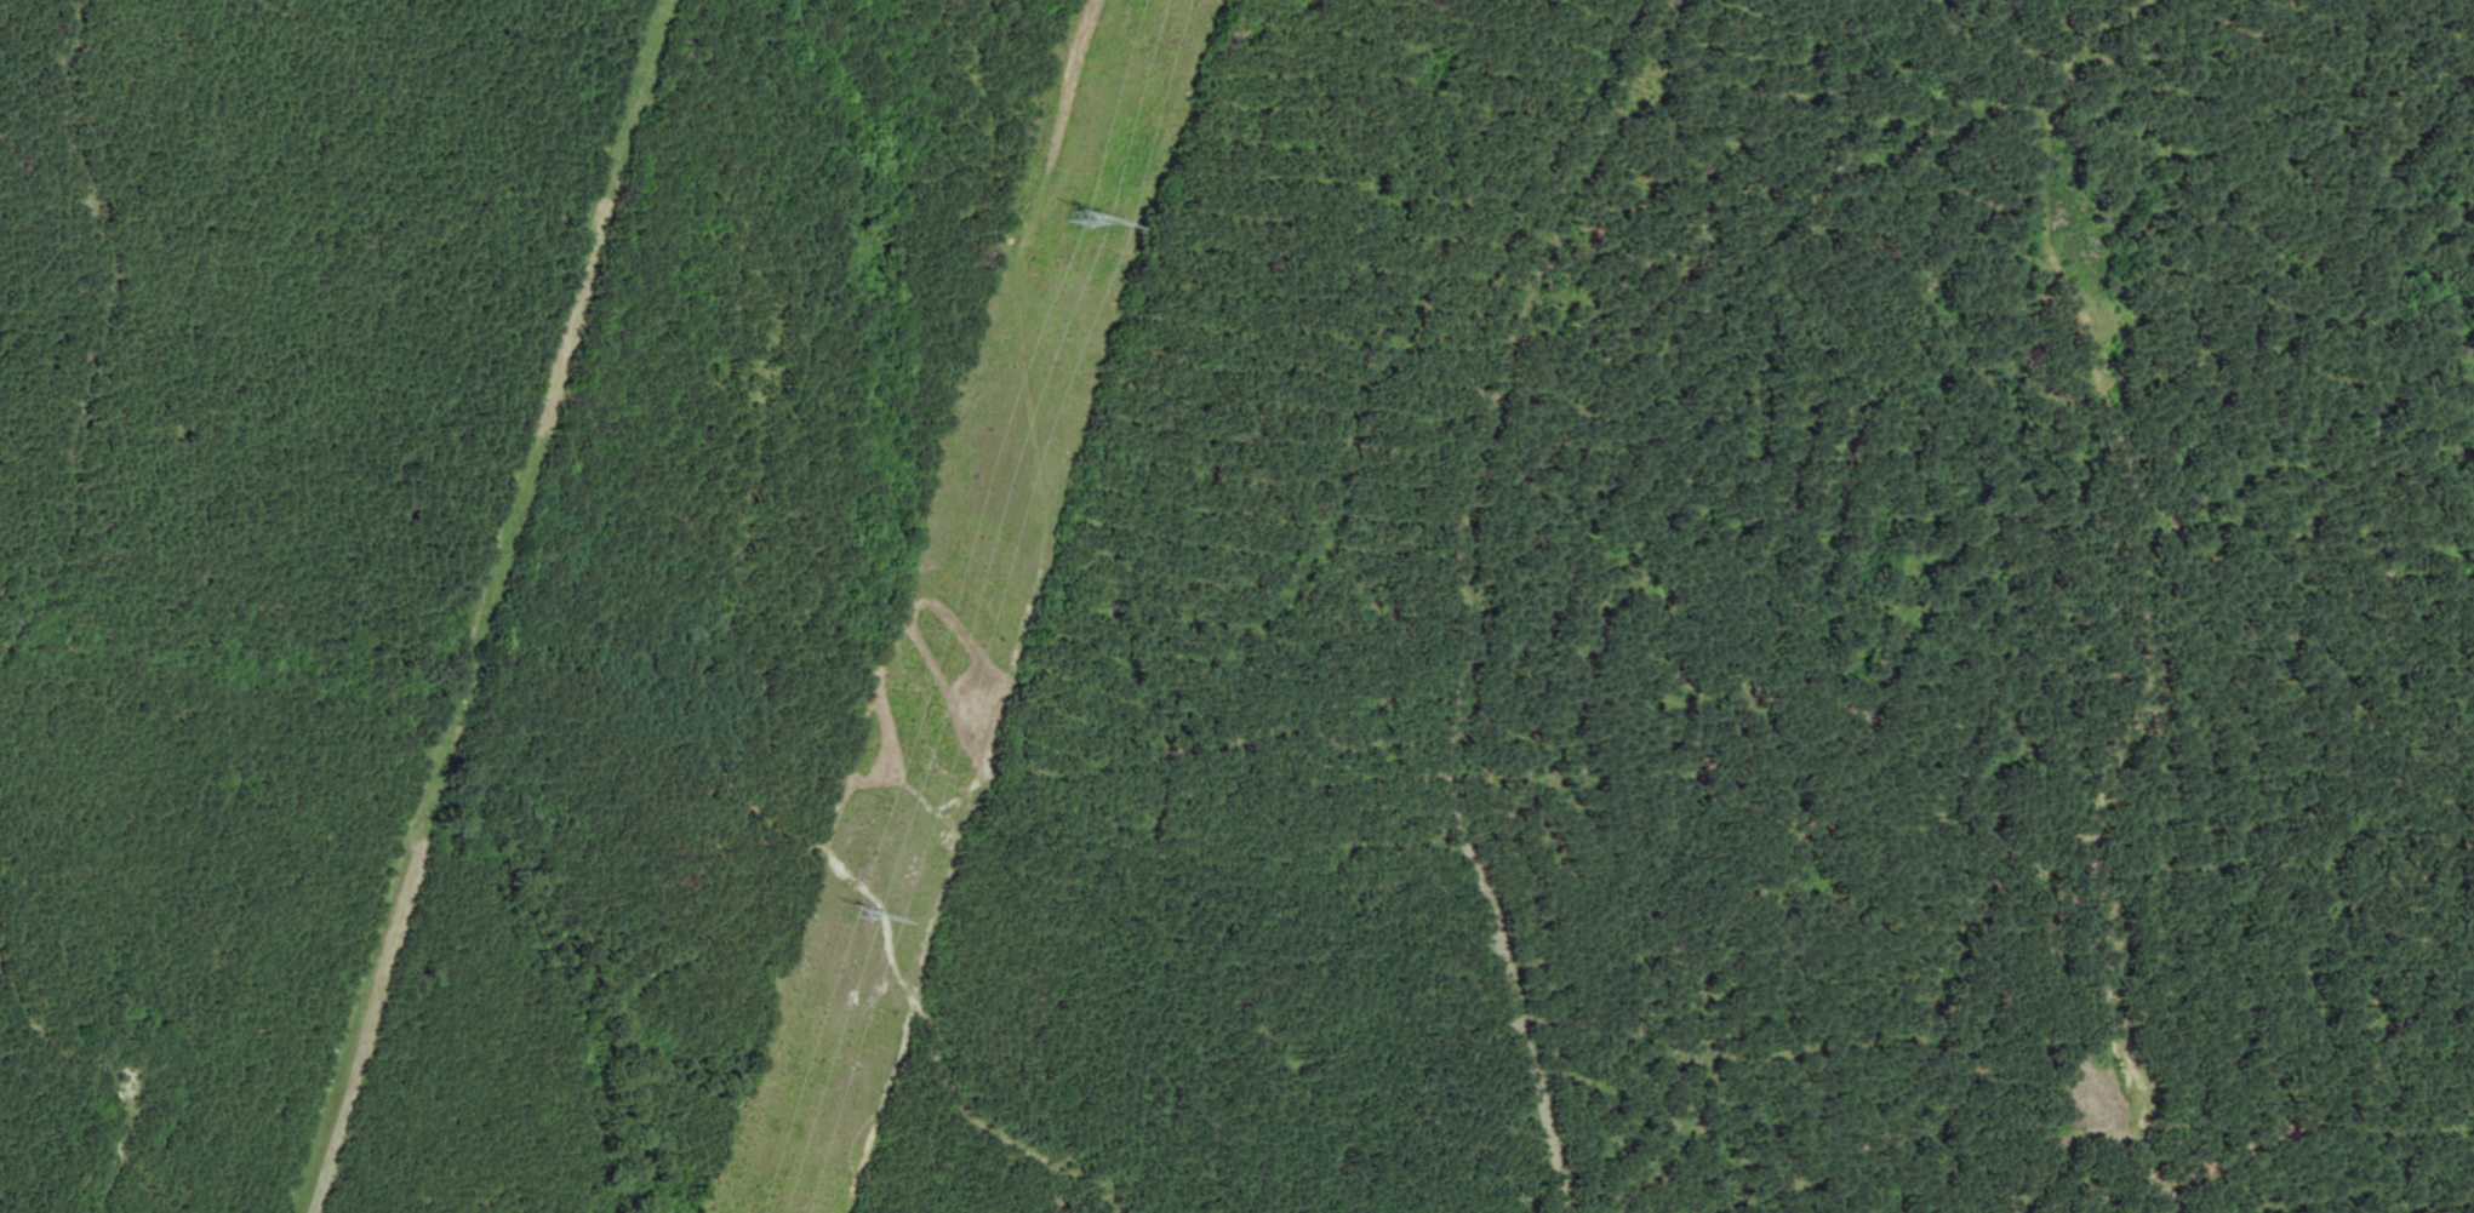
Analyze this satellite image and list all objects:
power tower: (1072, 214)
road: (21, 611)
power tower: (856, 915)

